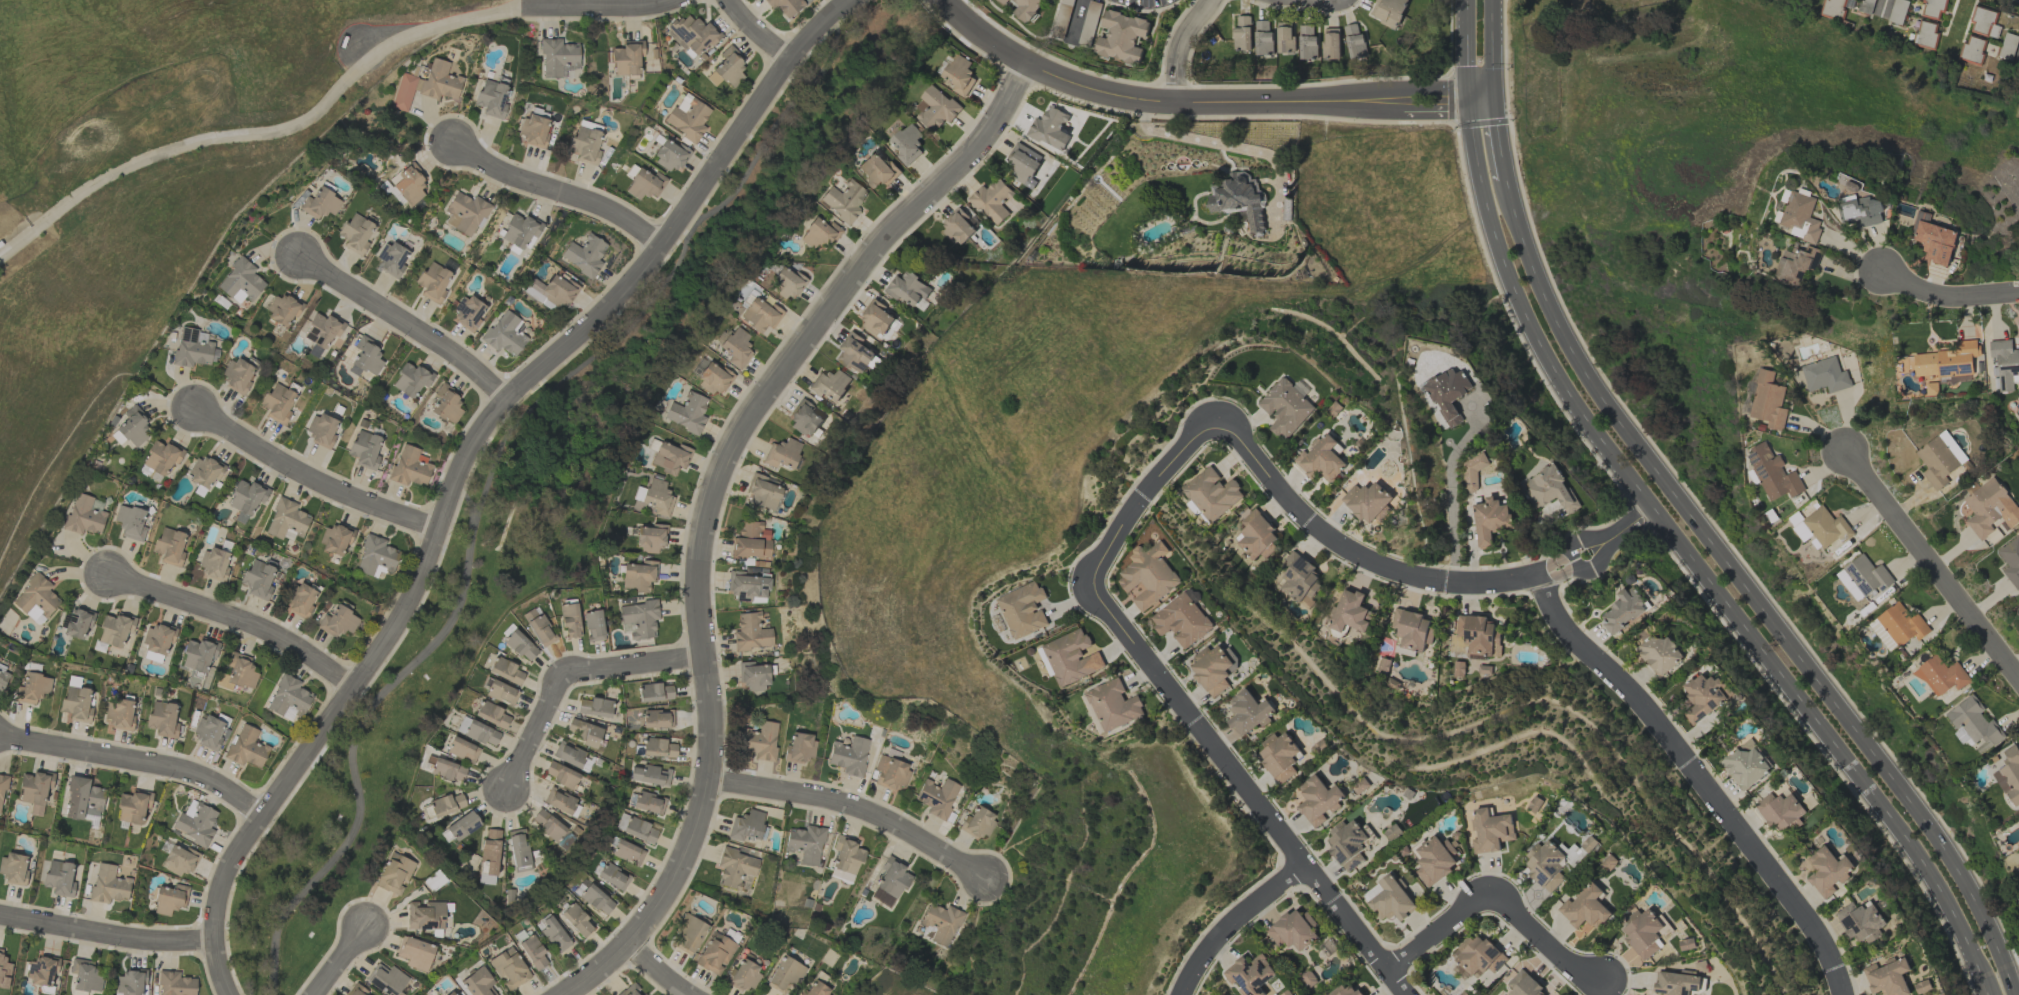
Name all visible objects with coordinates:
building: (1004, 1)
building: (785, 6)
building: (1864, 6)
road: (602, 7)
building: (1835, 7)
road: (1882, 7)
building: (1027, 8)
building: (1932, 9)
building: (1388, 11)
building: (1897, 11)
road: (1076, 18)
building: (1983, 21)
road: (757, 32)
building: (1241, 33)
building: (1925, 33)
building: (693, 34)
building: (1120, 36)
building: (1262, 37)
building: (1284, 37)
building: (1354, 41)
building: (1306, 42)
building: (1330, 42)
road: (1182, 45)
building: (1972, 48)
road: (1493, 51)
building: (558, 57)
building: (627, 58)
building: (729, 67)
building: (959, 75)
building: (426, 85)
road: (1207, 98)
building: (491, 99)
traffic signals: (1495, 102)
traffic signals: (1469, 103)
building: (935, 108)
building: (688, 117)
building: (535, 128)
building: (1049, 128)
road: (265, 133)
road: (1499, 141)
building: (907, 144)
building: (585, 145)
building: (669, 156)
building: (1022, 163)
building: (877, 170)
building: (409, 184)
building: (645, 184)
road: (564, 194)
building: (1238, 199)
building: (991, 200)
building: (843, 201)
building: (319, 204)
building: (1861, 211)
building: (465, 214)
building: (1800, 216)
building: (958, 227)
building: (520, 231)
building: (355, 233)
building: (819, 233)
building: (1935, 238)
building: (584, 255)
building: (391, 259)
building: (1797, 263)
road: (666, 278)
building: (241, 281)
building: (433, 282)
building: (786, 283)
building: (907, 288)
building: (559, 291)
road: (1949, 297)
building: (282, 310)
building: (467, 313)
building: (760, 315)
building: (876, 318)
road: (409, 324)
building: (322, 330)
building: (504, 334)
building: (193, 348)
building: (736, 348)
building: (854, 352)
building: (365, 358)
building: (2005, 363)
building: (1944, 364)
building: (236, 375)
building: (1824, 375)
building: (411, 379)
building: (714, 379)
building: (829, 384)
building: (1448, 393)
building: (1767, 400)
building: (277, 403)
building: (446, 404)
building: (1285, 407)
building: (687, 413)
building: (804, 419)
building: (131, 429)
building: (321, 430)
road: (1229, 433)
building: (364, 449)
building: (782, 453)
building: (161, 457)
building: (670, 458)
building: (1321, 458)
road: (469, 460)
building: (1936, 461)
building: (409, 467)
building: (1470, 471)
building: (203, 472)
building: (1772, 473)
building: (149, 474)
road: (314, 480)
building: (1549, 489)
building: (763, 493)
building: (1211, 493)
road: (1451, 496)
park: (550, 498)
building: (246, 499)
building: (1366, 500)
road: (717, 502)
building: (1990, 507)
building: (85, 515)
building: (287, 520)
building: (1489, 520)
building: (130, 522)
road: (1662, 522)
building: (1826, 526)
building: (1801, 531)
building: (1255, 534)
road: (1606, 536)
building: (2018, 537)
building: (650, 538)
building: (335, 540)
building: (751, 541)
building: (169, 546)
building: (376, 557)
building: (2011, 560)
building: (214, 564)
road: (1929, 573)
building: (1867, 574)
building: (1149, 575)
building: (638, 576)
building: (1298, 577)
building: (258, 579)
building: (1848, 584)
road: (1747, 592)
building: (36, 599)
building: (299, 600)
building: (1022, 609)
building: (1624, 609)
building: (1349, 611)
building: (638, 619)
building: (1181, 619)
building: (569, 620)
building: (76, 622)
building: (337, 622)
road: (239, 623)
building: (1901, 624)
building: (593, 625)
building: (538, 627)
building: (115, 629)
building: (1877, 629)
building: (751, 632)
building: (1478, 634)
building: (157, 642)
building: (520, 646)
building: (1659, 653)
building: (198, 654)
building: (1070, 657)
building: (1211, 668)
building: (505, 671)
building: (237, 673)
building: (1940, 675)
building: (753, 676)
building: (3, 678)
road: (579, 678)
building: (32, 688)
building: (500, 692)
building: (654, 692)
building: (1705, 695)
building: (288, 699)
building: (76, 704)
building: (1112, 704)
building: (594, 707)
building: (1247, 712)
building: (118, 714)
building: (491, 714)
building: (162, 719)
building: (657, 719)
building: (1974, 723)
building: (462, 725)
building: (208, 732)
building: (583, 732)
building: (481, 734)
road: (353, 735)
building: (759, 741)
building: (246, 747)
building: (659, 748)
building: (800, 748)
building: (462, 750)
building: (569, 755)
building: (849, 756)
building: (1278, 756)
building: (1745, 764)
road: (138, 765)
building: (447, 770)
building: (890, 773)
building: (560, 774)
building: (650, 775)
road: (1697, 779)
building: (2, 790)
building: (35, 790)
building: (937, 797)
building: (82, 799)
building: (1317, 799)
building: (559, 801)
building: (645, 802)
building: (446, 805)
building: (133, 807)
road: (859, 808)
building: (1781, 811)
building: (195, 823)
building: (977, 823)
building: (463, 826)
building: (548, 826)
building: (746, 826)
building: (636, 829)
building: (1490, 830)
building: (1347, 843)
building: (1587, 843)
building: (805, 844)
building: (518, 849)
building: (626, 851)
building: (489, 858)
building: (1434, 859)
building: (179, 860)
building: (845, 860)
road: (1296, 861)
building: (1545, 864)
building: (735, 868)
building: (13, 869)
building: (1827, 871)
building: (395, 874)
building: (612, 876)
building: (59, 878)
building: (890, 882)
building: (108, 885)
building: (170, 899)
building: (1391, 899)
building: (596, 900)
building: (1585, 907)
building: (425, 916)
building: (576, 920)
road: (1230, 921)
building: (1860, 921)
building: (941, 923)
building: (1293, 929)
road: (1436, 931)
building: (1642, 932)
building: (554, 935)
building: (688, 935)
road: (106, 937)
road: (1546, 940)
building: (533, 952)
building: (415, 953)
building: (715, 954)
building: (1479, 955)
road: (344, 962)
building: (508, 969)
building: (4, 970)
building: (42, 970)
road: (661, 971)
building: (785, 974)
building: (1249, 974)
building: (743, 975)
building: (86, 976)
building: (1887, 977)
building: (387, 980)
building: (130, 983)
building: (478, 983)
building: (176, 984)
building: (1524, 984)
building: (356, 990)
building: (631, 990)
building: (815, 990)
building: (1345, 990)
building: (451, 994)

